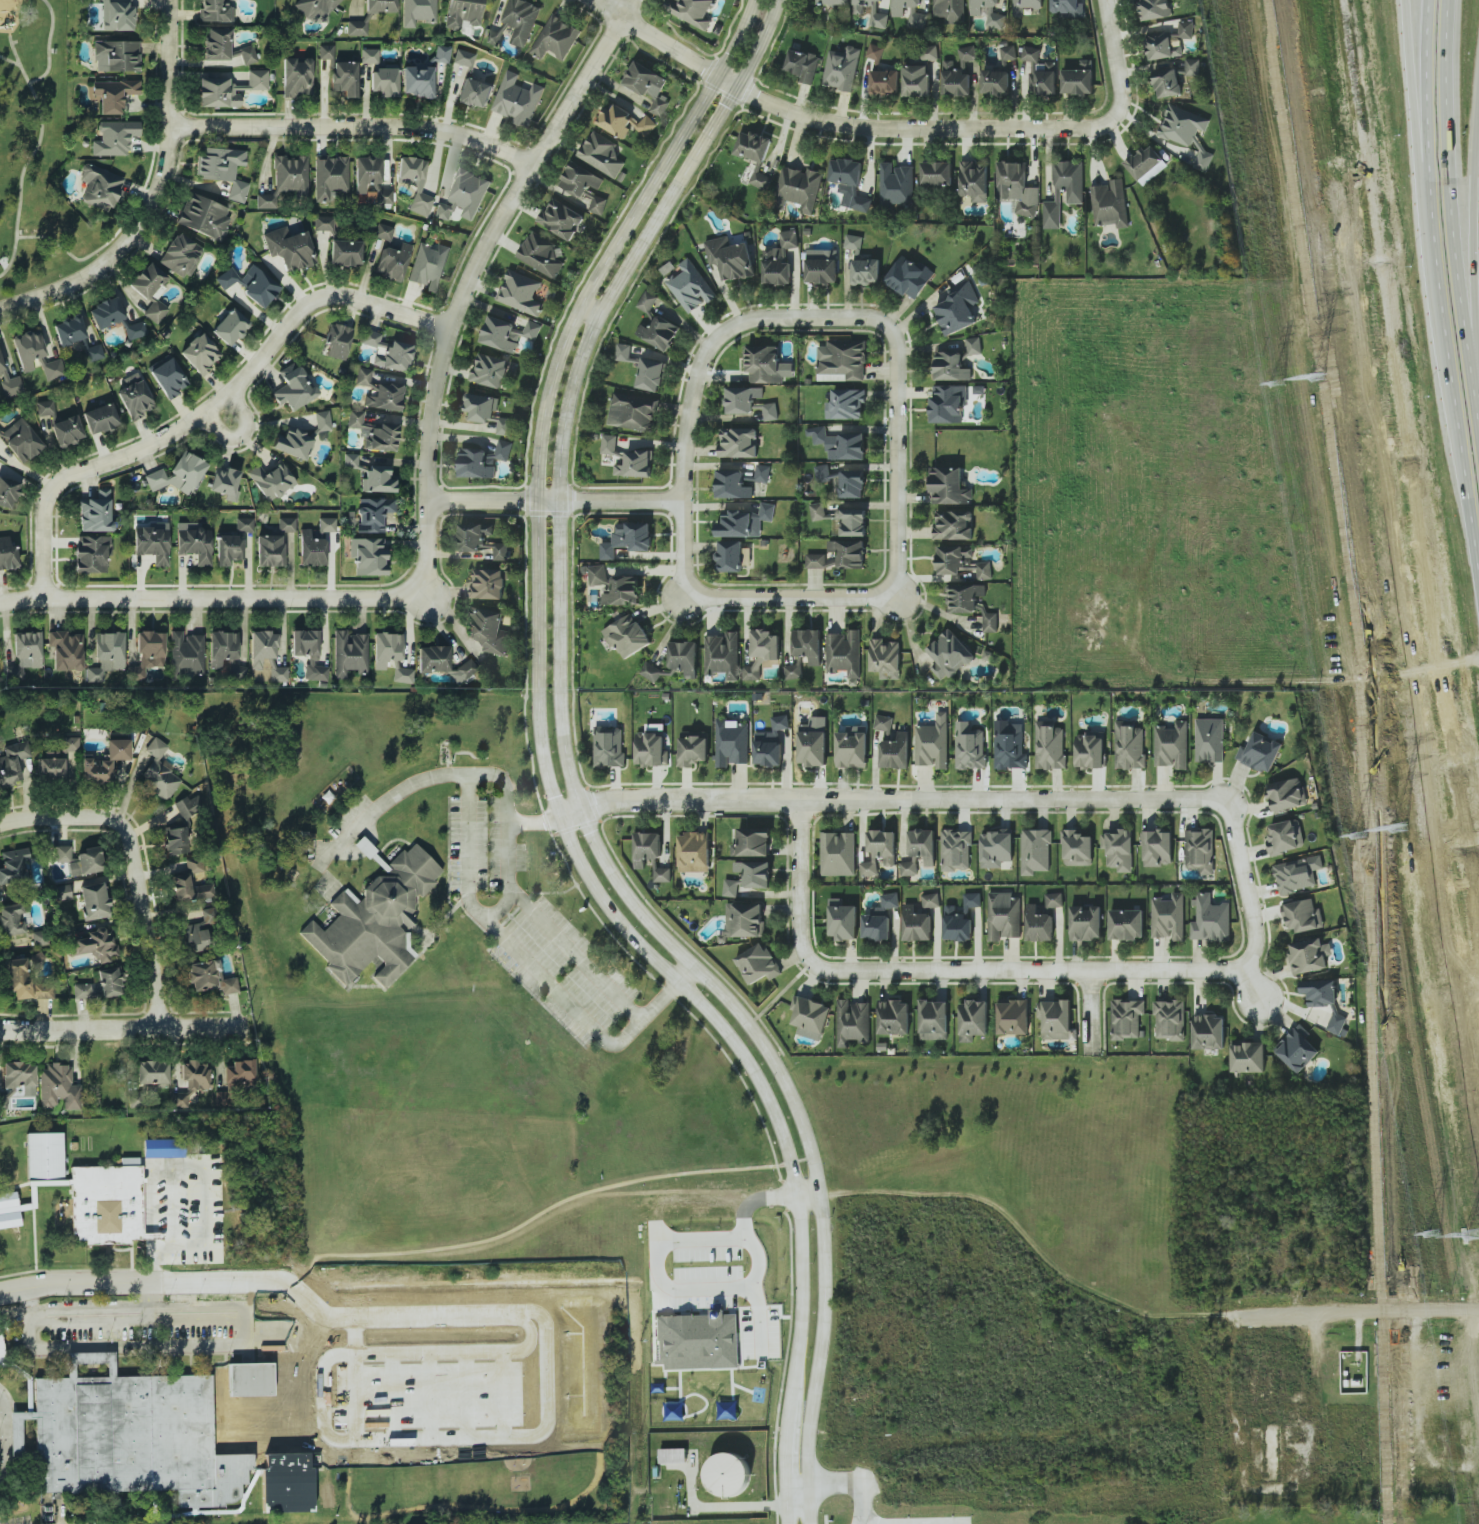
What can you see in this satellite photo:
road: (606, 2)
building: (833, 2)
building: (379, 6)
building: (903, 6)
building: (1026, 6)
building: (1068, 7)
road: (629, 8)
building: (313, 9)
building: (1155, 9)
building: (216, 10)
building: (693, 11)
building: (418, 12)
building: (871, 12)
building: (949, 12)
building: (988, 12)
building: (462, 13)
building: (116, 15)
building: (918, 19)
building: (522, 20)
building: (356, 28)
building: (495, 36)
building: (557, 38)
building: (1170, 42)
road: (47, 46)
building: (224, 48)
building: (325, 51)
building: (875, 52)
building: (441, 53)
building: (929, 53)
building: (1031, 54)
building: (116, 56)
road: (9, 62)
building: (803, 65)
building: (1192, 67)
building: (842, 68)
building: (958, 72)
building: (1000, 73)
building: (380, 74)
building: (297, 77)
building: (344, 77)
building: (1079, 79)
building: (417, 81)
building: (916, 81)
building: (1168, 82)
building: (884, 83)
building: (1043, 83)
building: (649, 86)
building: (229, 89)
building: (475, 93)
building: (112, 94)
building: (517, 100)
road: (768, 104)
building: (626, 122)
building: (1182, 125)
road: (352, 127)
road: (1117, 136)
building: (114, 137)
building: (754, 146)
building: (602, 154)
road: (31, 155)
building: (1203, 160)
building: (1146, 164)
building: (223, 169)
building: (937, 173)
building: (330, 177)
building: (762, 177)
building: (580, 179)
building: (286, 181)
building: (414, 182)
building: (850, 183)
building: (974, 183)
building: (897, 186)
building: (100, 187)
building: (798, 189)
building: (1017, 189)
building: (1075, 195)
road: (153, 196)
building: (465, 196)
building: (599, 204)
building: (1110, 204)
building: (203, 216)
building: (562, 219)
building: (323, 222)
road: (119, 229)
building: (382, 229)
building: (855, 244)
building: (289, 248)
building: (345, 253)
building: (180, 254)
building: (544, 254)
building: (731, 258)
building: (781, 261)
building: (392, 263)
building: (429, 266)
building: (821, 270)
building: (866, 271)
building: (909, 277)
building: (148, 281)
building: (251, 283)
road: (465, 285)
building: (692, 286)
building: (522, 292)
building: (150, 308)
road: (591, 308)
building: (958, 309)
building: (105, 313)
building: (656, 324)
building: (230, 326)
building: (69, 330)
building: (134, 330)
building: (509, 334)
building: (337, 340)
road: (897, 344)
building: (976, 345)
building: (27, 348)
building: (388, 351)
building: (93, 353)
building: (199, 353)
building: (623, 353)
building: (842, 360)
building: (767, 364)
building: (951, 367)
building: (50, 368)
building: (490, 370)
building: (651, 373)
building: (168, 377)
power tower: (1318, 378)
building: (9, 383)
power tower: (1278, 384)
building: (293, 387)
building: (378, 391)
building: (135, 397)
building: (742, 399)
building: (848, 404)
building: (948, 404)
building: (482, 407)
road: (210, 409)
building: (46, 410)
building: (771, 411)
building: (633, 412)
building: (99, 418)
building: (322, 421)
building: (505, 426)
building: (66, 431)
building: (373, 433)
road: (239, 434)
building: (20, 440)
building: (293, 443)
building: (739, 443)
building: (841, 444)
building: (628, 457)
building: (350, 460)
building: (484, 460)
building: (763, 473)
building: (178, 474)
building: (377, 479)
building: (270, 480)
building: (749, 480)
building: (843, 481)
building: (225, 483)
building: (732, 485)
road: (1407, 487)
building: (8, 492)
road: (555, 503)
building: (951, 503)
building: (95, 512)
building: (372, 513)
building: (843, 517)
building: (745, 522)
building: (287, 525)
building: (628, 538)
building: (481, 539)
building: (193, 542)
building: (315, 542)
building: (232, 543)
building: (152, 544)
building: (269, 550)
building: (849, 553)
building: (7, 554)
building: (91, 554)
building: (368, 556)
building: (734, 556)
building: (816, 561)
building: (962, 562)
building: (488, 583)
building: (615, 586)
building: (965, 596)
road: (230, 598)
road: (21, 600)
building: (991, 622)
building: (489, 629)
building: (628, 635)
building: (305, 643)
building: (808, 645)
building: (27, 648)
building: (221, 648)
building: (386, 648)
building: (65, 650)
building: (186, 652)
building: (762, 652)
building: (147, 653)
building: (845, 654)
building: (106, 655)
building: (266, 655)
building: (349, 655)
building: (723, 655)
building: (956, 655)
building: (685, 657)
building: (886, 658)
building: (443, 663)
building: (315, 671)
building: (654, 671)
building: (794, 671)
building: (402, 675)
building: (781, 722)
building: (886, 727)
building: (1210, 740)
building: (813, 742)
building: (732, 743)
building: (933, 743)
building: (69, 744)
building: (1130, 745)
building: (1172, 745)
building: (610, 746)
building: (1010, 746)
building: (1050, 746)
building: (771, 748)
building: (971, 748)
building: (650, 749)
building: (852, 749)
building: (693, 750)
building: (1090, 751)
building: (895, 752)
building: (1261, 752)
building: (105, 761)
building: (12, 762)
building: (51, 769)
building: (157, 772)
road: (570, 774)
road: (547, 775)
building: (1287, 794)
road: (892, 799)
building: (189, 806)
road: (506, 815)
road: (532, 823)
power tower: (1399, 828)
power tower: (1359, 835)
building: (1286, 836)
building: (175, 840)
building: (753, 842)
building: (923, 845)
road: (363, 846)
building: (996, 848)
building: (1077, 848)
building: (1158, 848)
building: (957, 849)
building: (1119, 849)
building: (1201, 850)
building: (880, 851)
building: (1036, 851)
building: (695, 852)
building: (838, 853)
building: (651, 854)
building: (79, 860)
road: (127, 866)
building: (14, 867)
building: (911, 867)
building: (755, 873)
building: (1298, 874)
building: (191, 883)
building: (93, 899)
building: (931, 900)
building: (1054, 900)
building: (207, 915)
building: (1004, 916)
building: (1303, 916)
building: (1169, 917)
building: (880, 918)
building: (961, 918)
building: (11, 919)
building: (374, 919)
building: (745, 919)
building: (843, 920)
building: (1211, 920)
building: (918, 922)
building: (1086, 923)
building: (1127, 924)
building: (1039, 925)
building: (38, 937)
building: (194, 937)
building: (95, 945)
building: (1309, 955)
building: (37, 957)
building: (758, 964)
road: (1031, 969)
road: (593, 971)
building: (201, 976)
road: (687, 976)
building: (24, 981)
road: (1250, 984)
building: (99, 985)
building: (228, 985)
road: (783, 990)
building: (1320, 992)
road: (562, 993)
road: (1090, 1004)
building: (811, 1017)
building: (894, 1017)
building: (1014, 1017)
building: (1127, 1018)
building: (973, 1019)
building: (1057, 1019)
building: (1170, 1019)
building: (934, 1020)
building: (854, 1023)
building: (1337, 1023)
road: (118, 1028)
building: (1209, 1032)
building: (1297, 1049)
building: (1248, 1056)
building: (151, 1072)
building: (17, 1075)
building: (234, 1079)
building: (191, 1081)
building: (58, 1087)
building: (163, 1148)
building: (44, 1157)
building: (129, 1161)
building: (106, 1204)
building: (9, 1210)
power tower: (1432, 1234)
power tower: (1474, 1236)
road: (200, 1246)
road: (425, 1248)
road: (74, 1284)
road: (720, 1289)
road: (89, 1312)
road: (1350, 1314)
road: (378, 1321)
building: (697, 1342)
road: (464, 1354)
building: (89, 1361)
road: (432, 1398)
road: (467, 1398)
road: (504, 1398)
road: (326, 1399)
road: (396, 1399)
road: (4, 1431)
building: (161, 1440)
road: (410, 1443)
building: (673, 1455)
road: (841, 1482)

